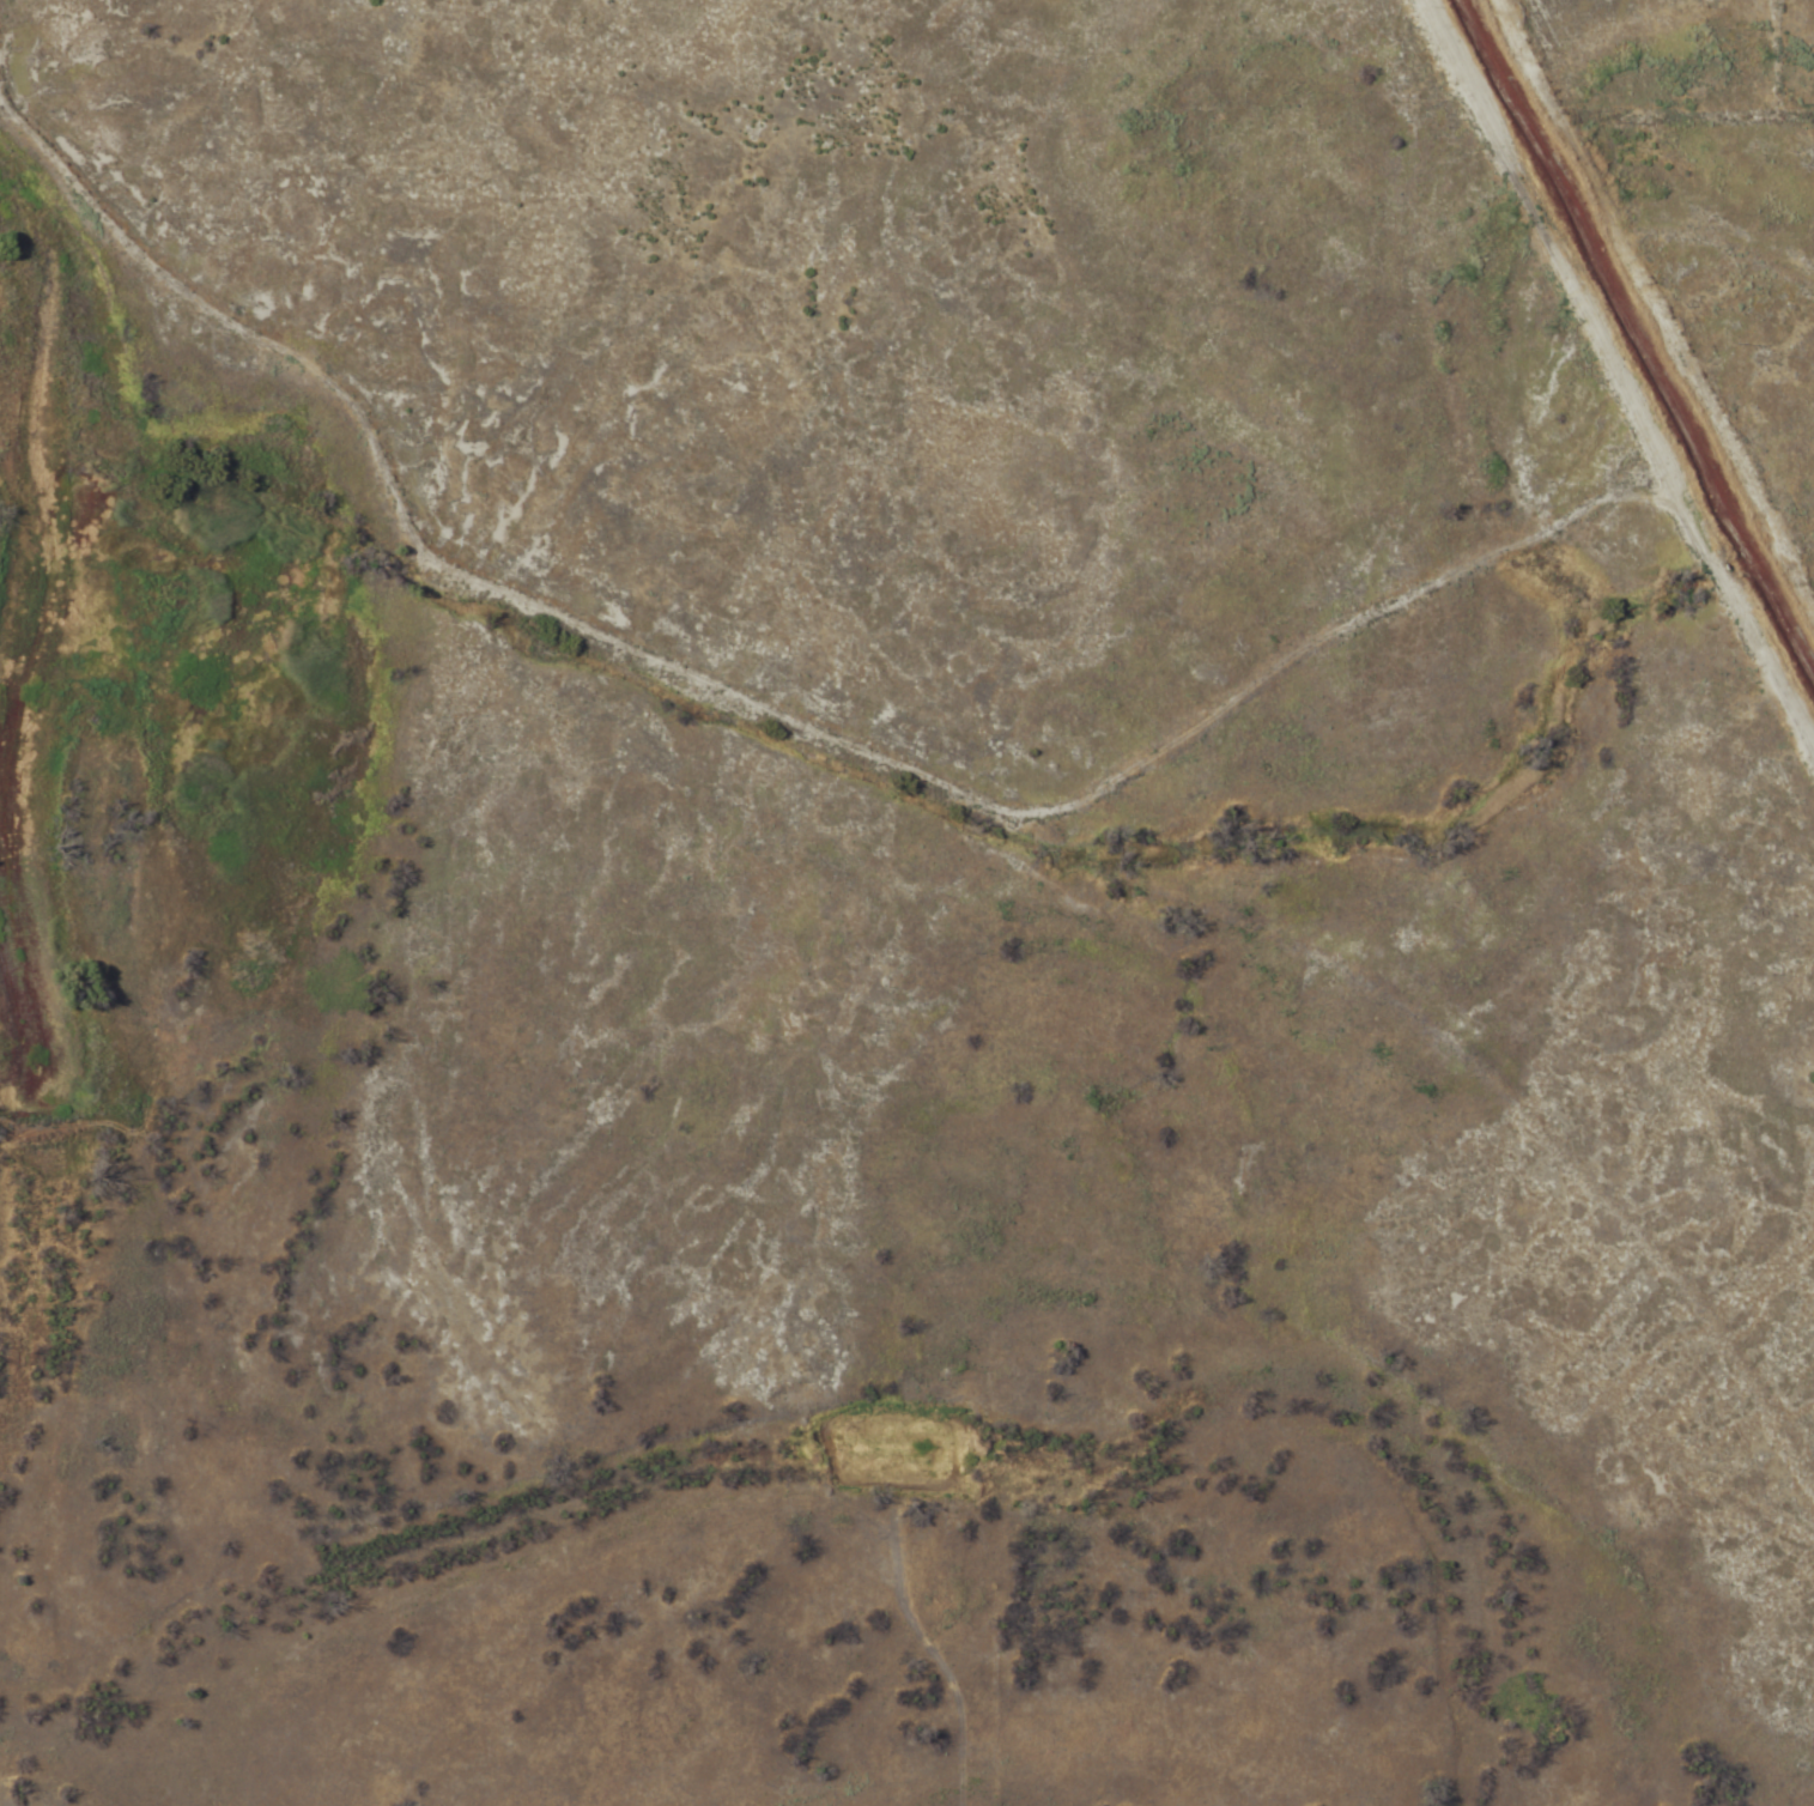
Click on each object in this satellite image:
road: (1717, 190)
road: (1613, 398)

